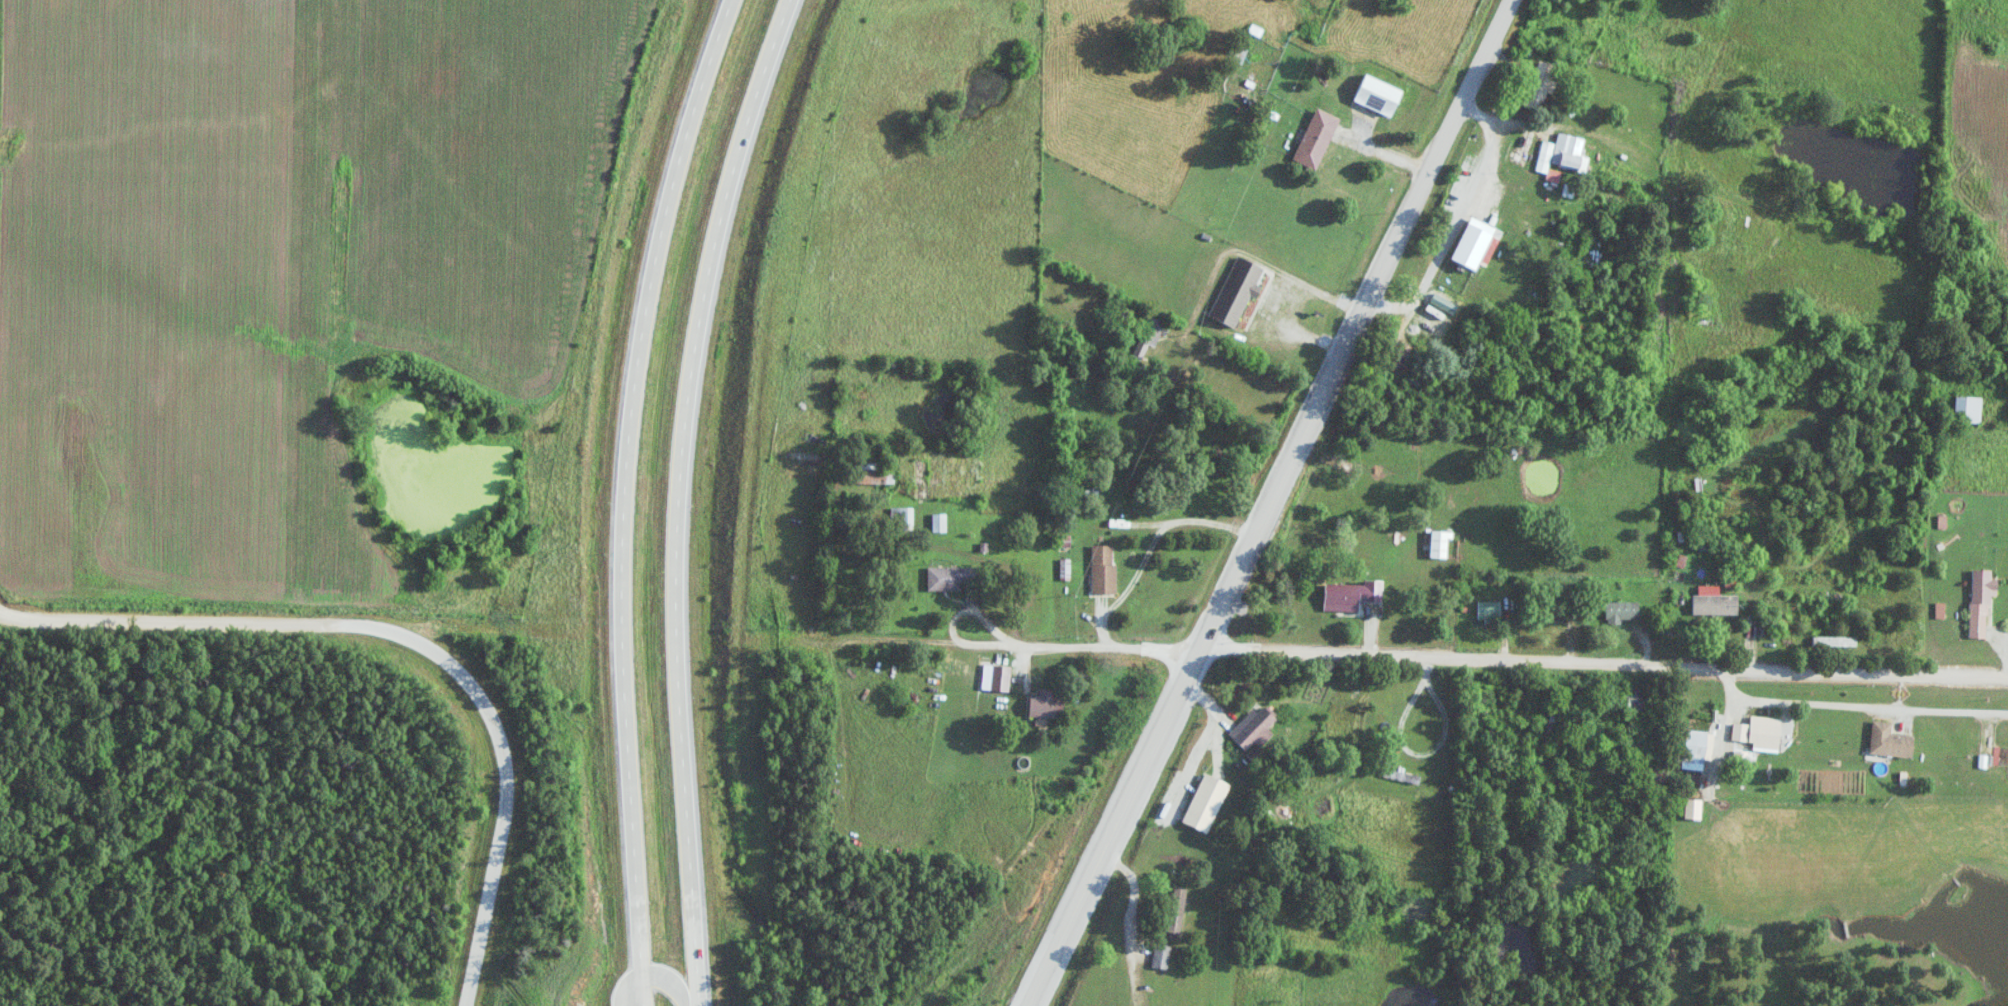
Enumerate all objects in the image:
building: (1543, 85)
building: (1380, 96)
building: (1318, 139)
road: (1385, 153)
building: (1565, 154)
building: (1470, 235)
building: (1741, 243)
building: (1238, 290)
road: (1286, 299)
building: (1149, 338)
building: (1970, 408)
building: (873, 475)
road: (624, 496)
road: (679, 496)
road: (1277, 503)
building: (902, 518)
building: (940, 522)
road: (1129, 532)
building: (1440, 544)
building: (1105, 569)
building: (951, 577)
building: (1354, 593)
building: (1983, 601)
building: (1717, 603)
building: (1490, 610)
building: (1623, 611)
road: (187, 625)
building: (1836, 640)
road: (1395, 661)
building: (1002, 678)
building: (1634, 699)
building: (1048, 705)
road: (1857, 715)
building: (1255, 726)
building: (1760, 735)
building: (1892, 740)
building: (1698, 743)
road: (508, 785)
building: (1178, 910)
road: (1131, 920)
building: (1162, 955)
road: (655, 976)

